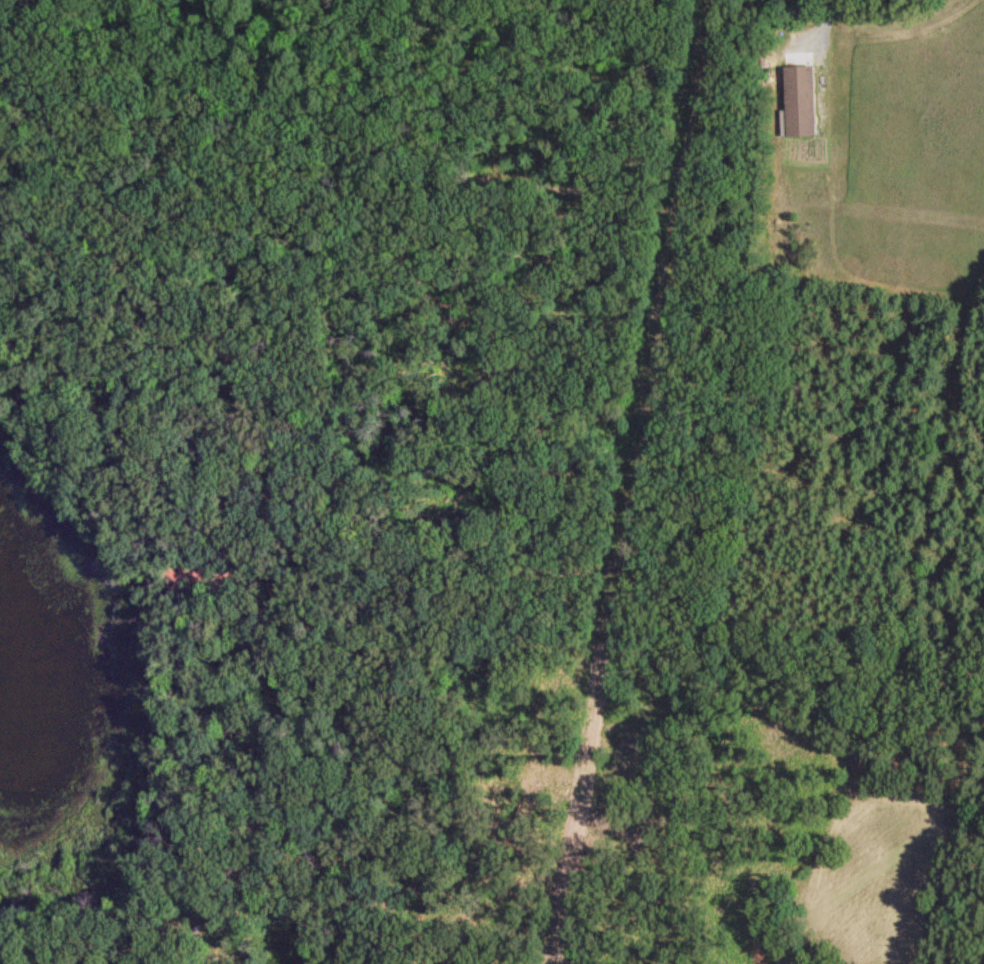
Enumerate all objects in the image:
building: (804, 98)

